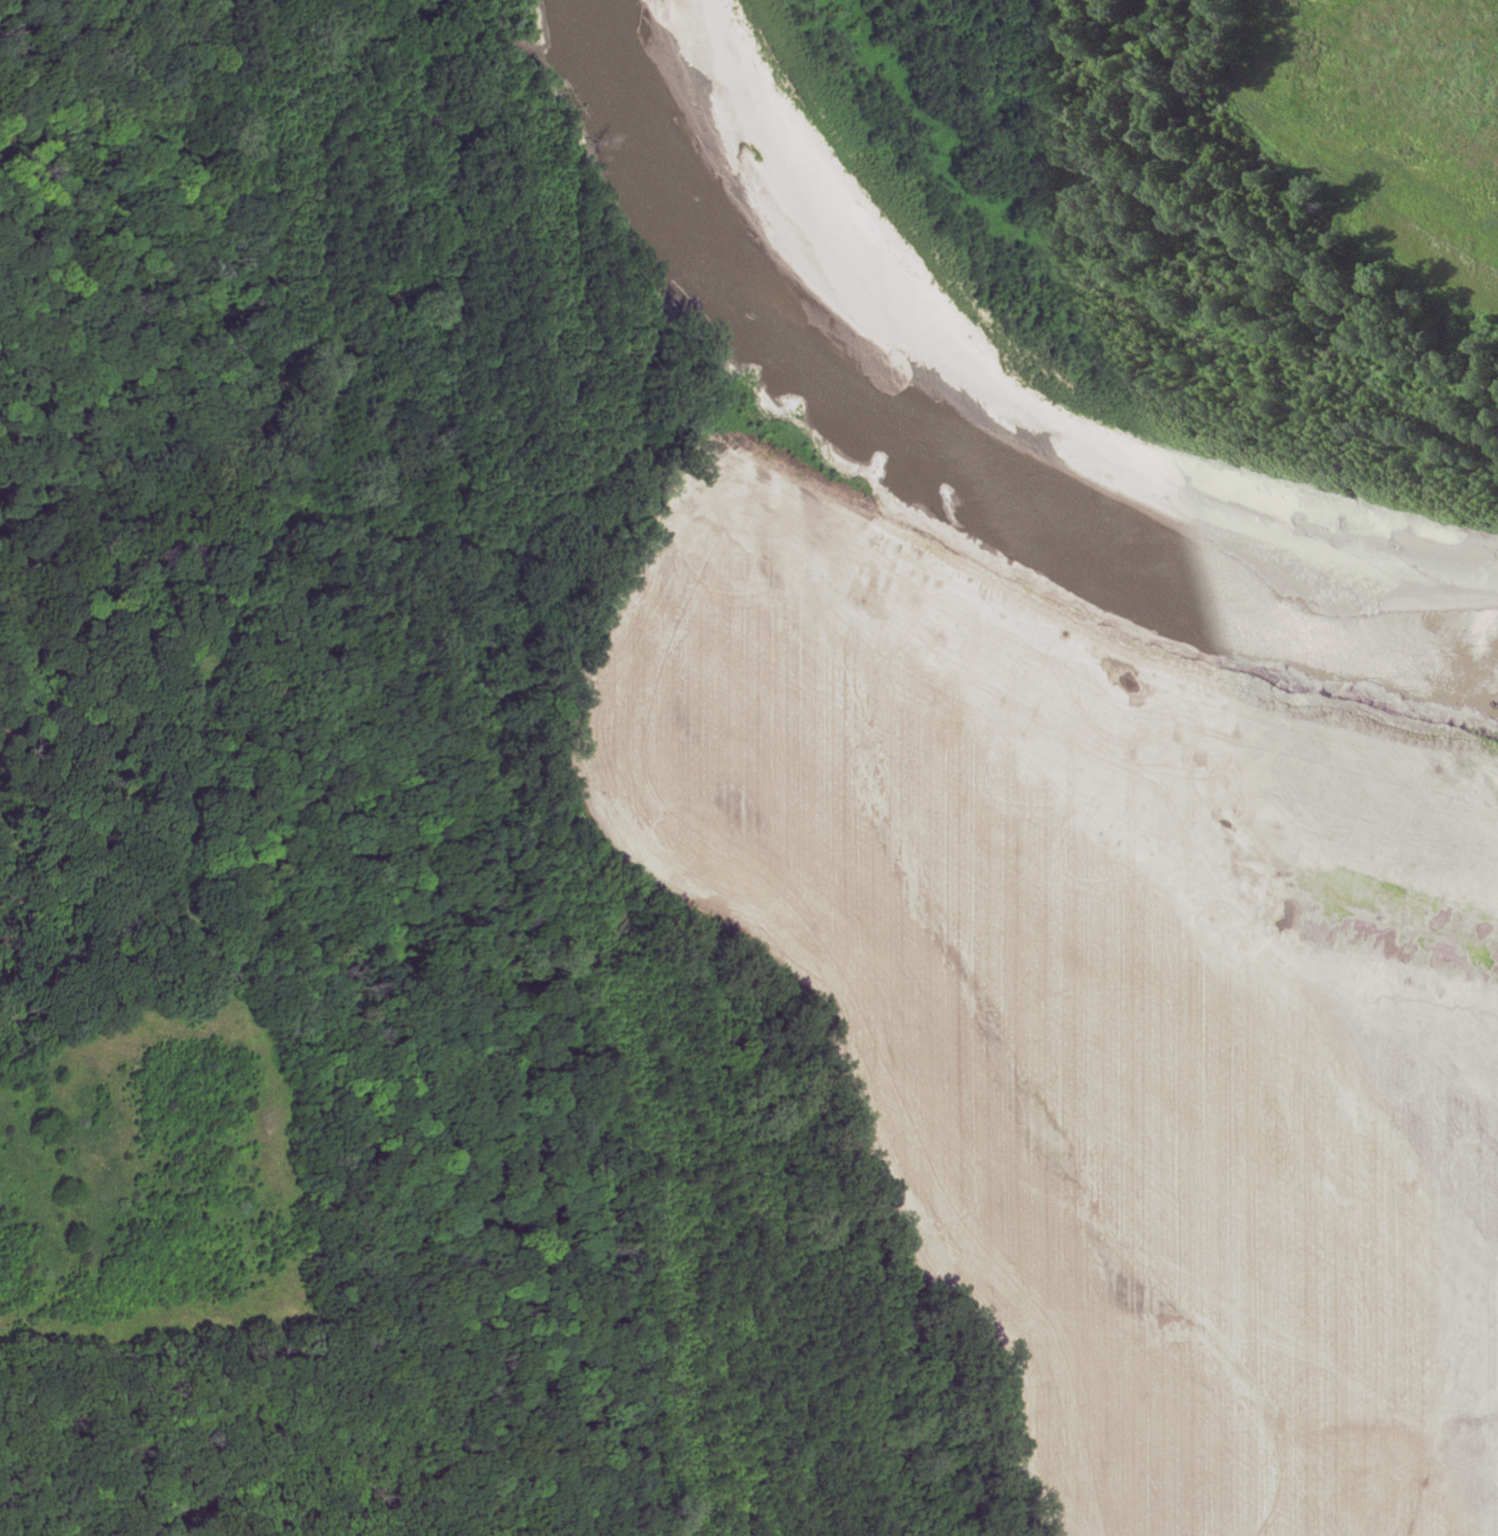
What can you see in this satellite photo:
river: (951, 429)
park: (660, 892)
crop: (1099, 977)
road: (405, 1174)
road: (453, 1532)

